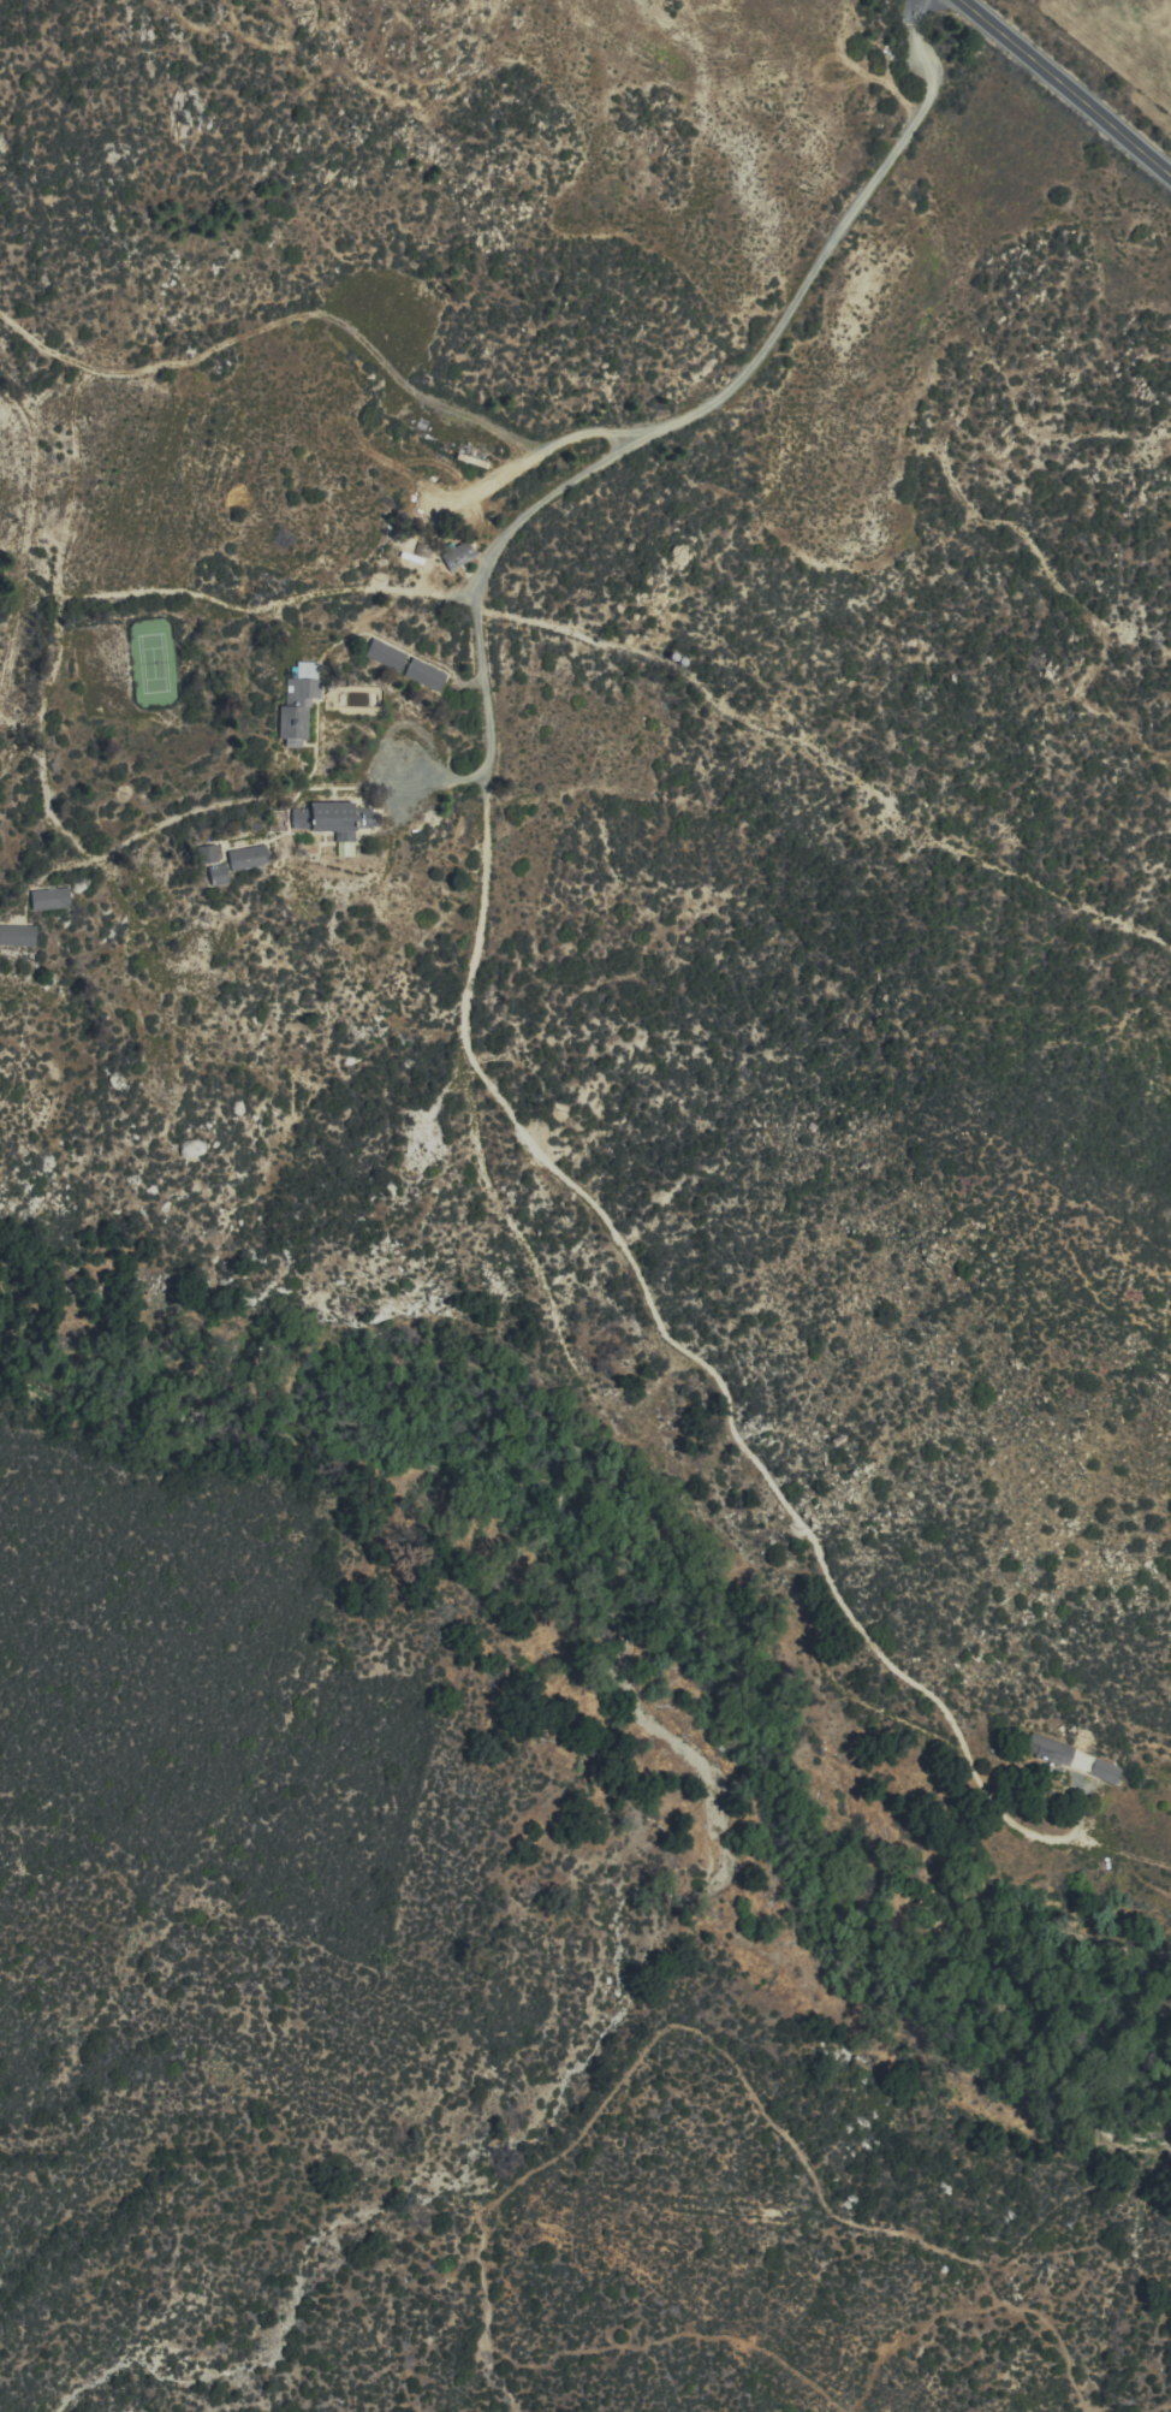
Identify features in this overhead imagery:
road: (1068, 85)
building: (457, 553)
building: (385, 652)
building: (424, 672)
building: (298, 699)
building: (364, 816)
building: (328, 820)
building: (246, 855)
building: (49, 897)
building: (17, 934)
building: (1050, 1748)
building: (1105, 1771)

